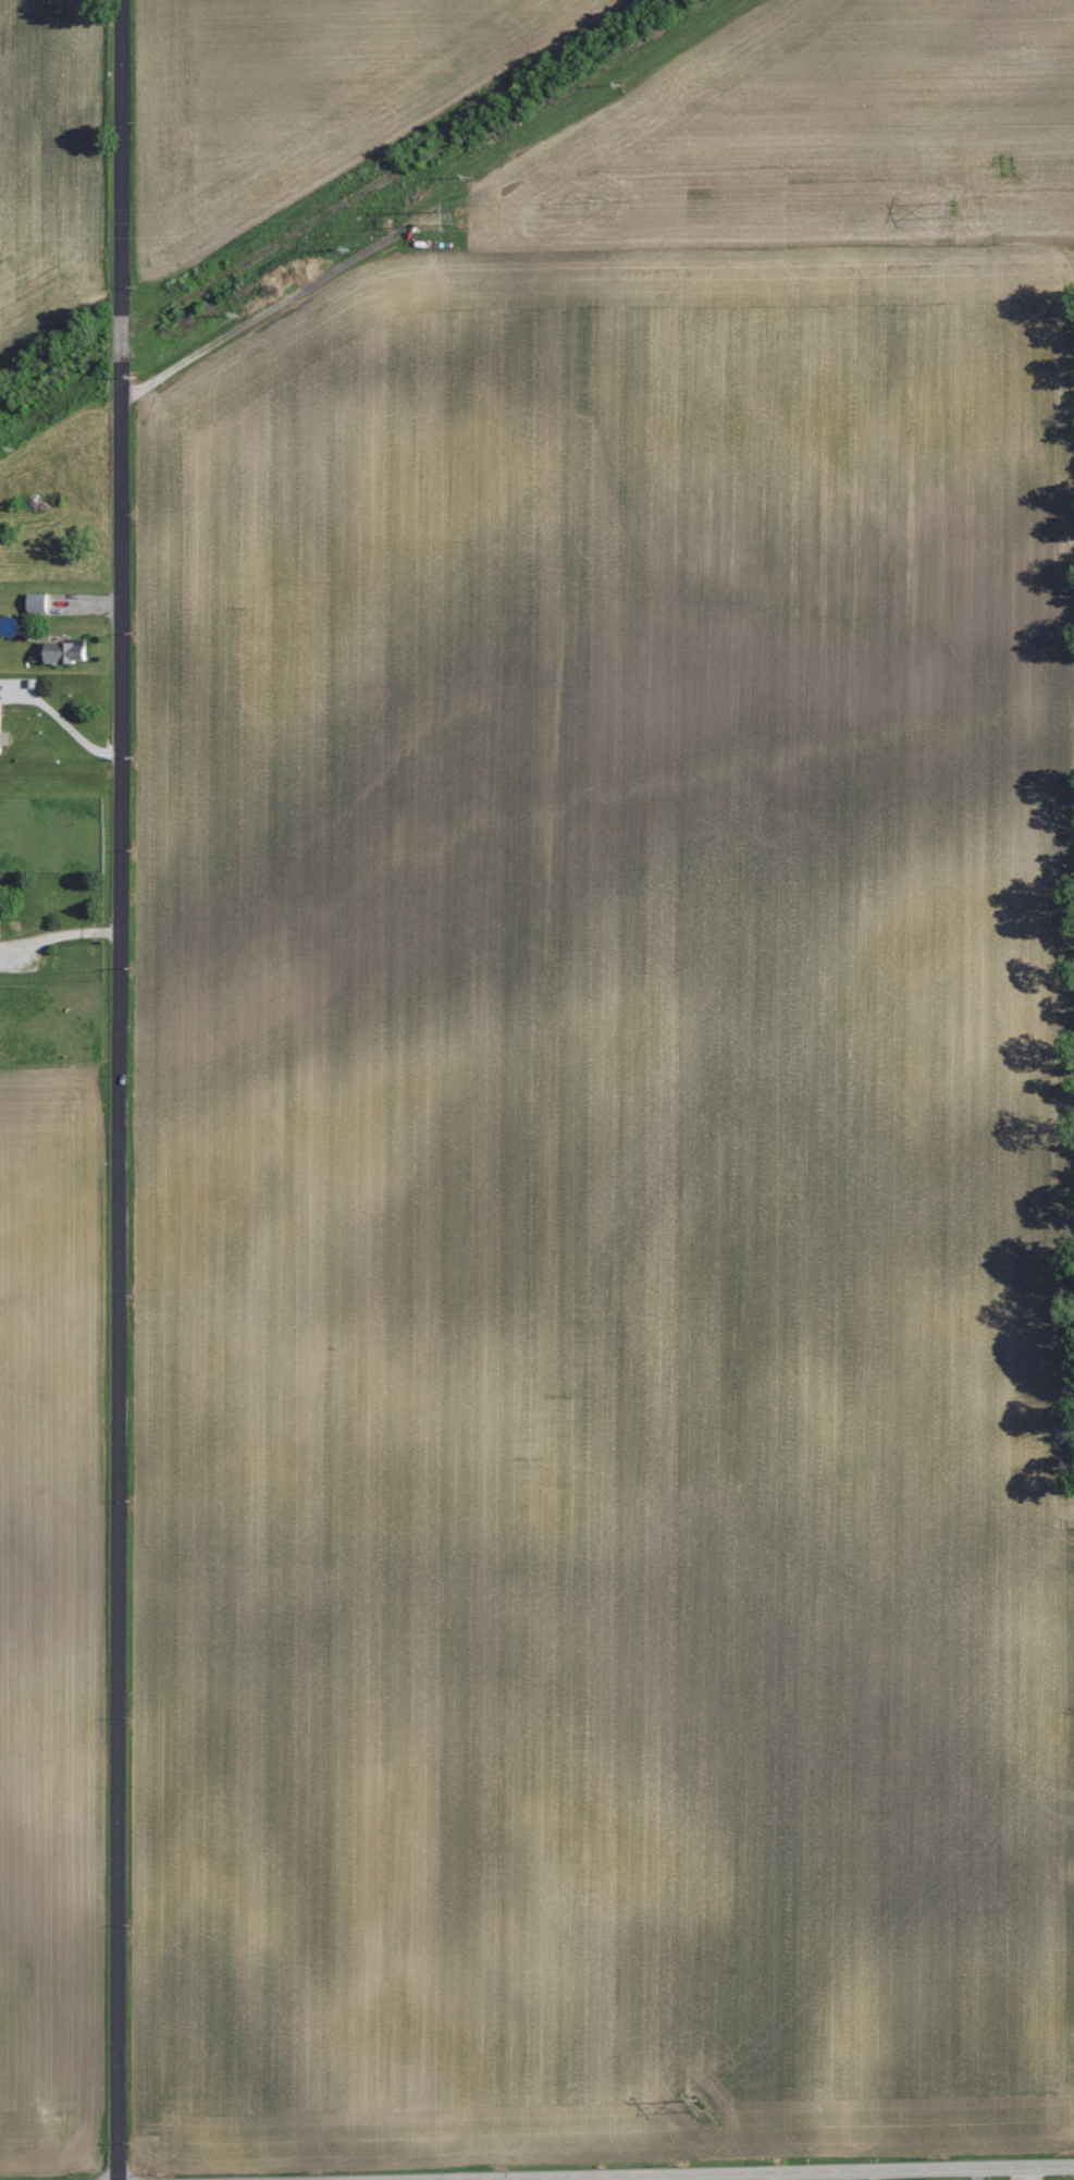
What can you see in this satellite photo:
railway: (337, 208)
power tower: (952, 209)
power tower: (468, 215)
building: (39, 603)
building: (67, 652)
road: (61, 721)
building: (3, 734)
road: (59, 936)
road: (120, 1090)
power tower: (702, 2104)
road: (795, 2173)

